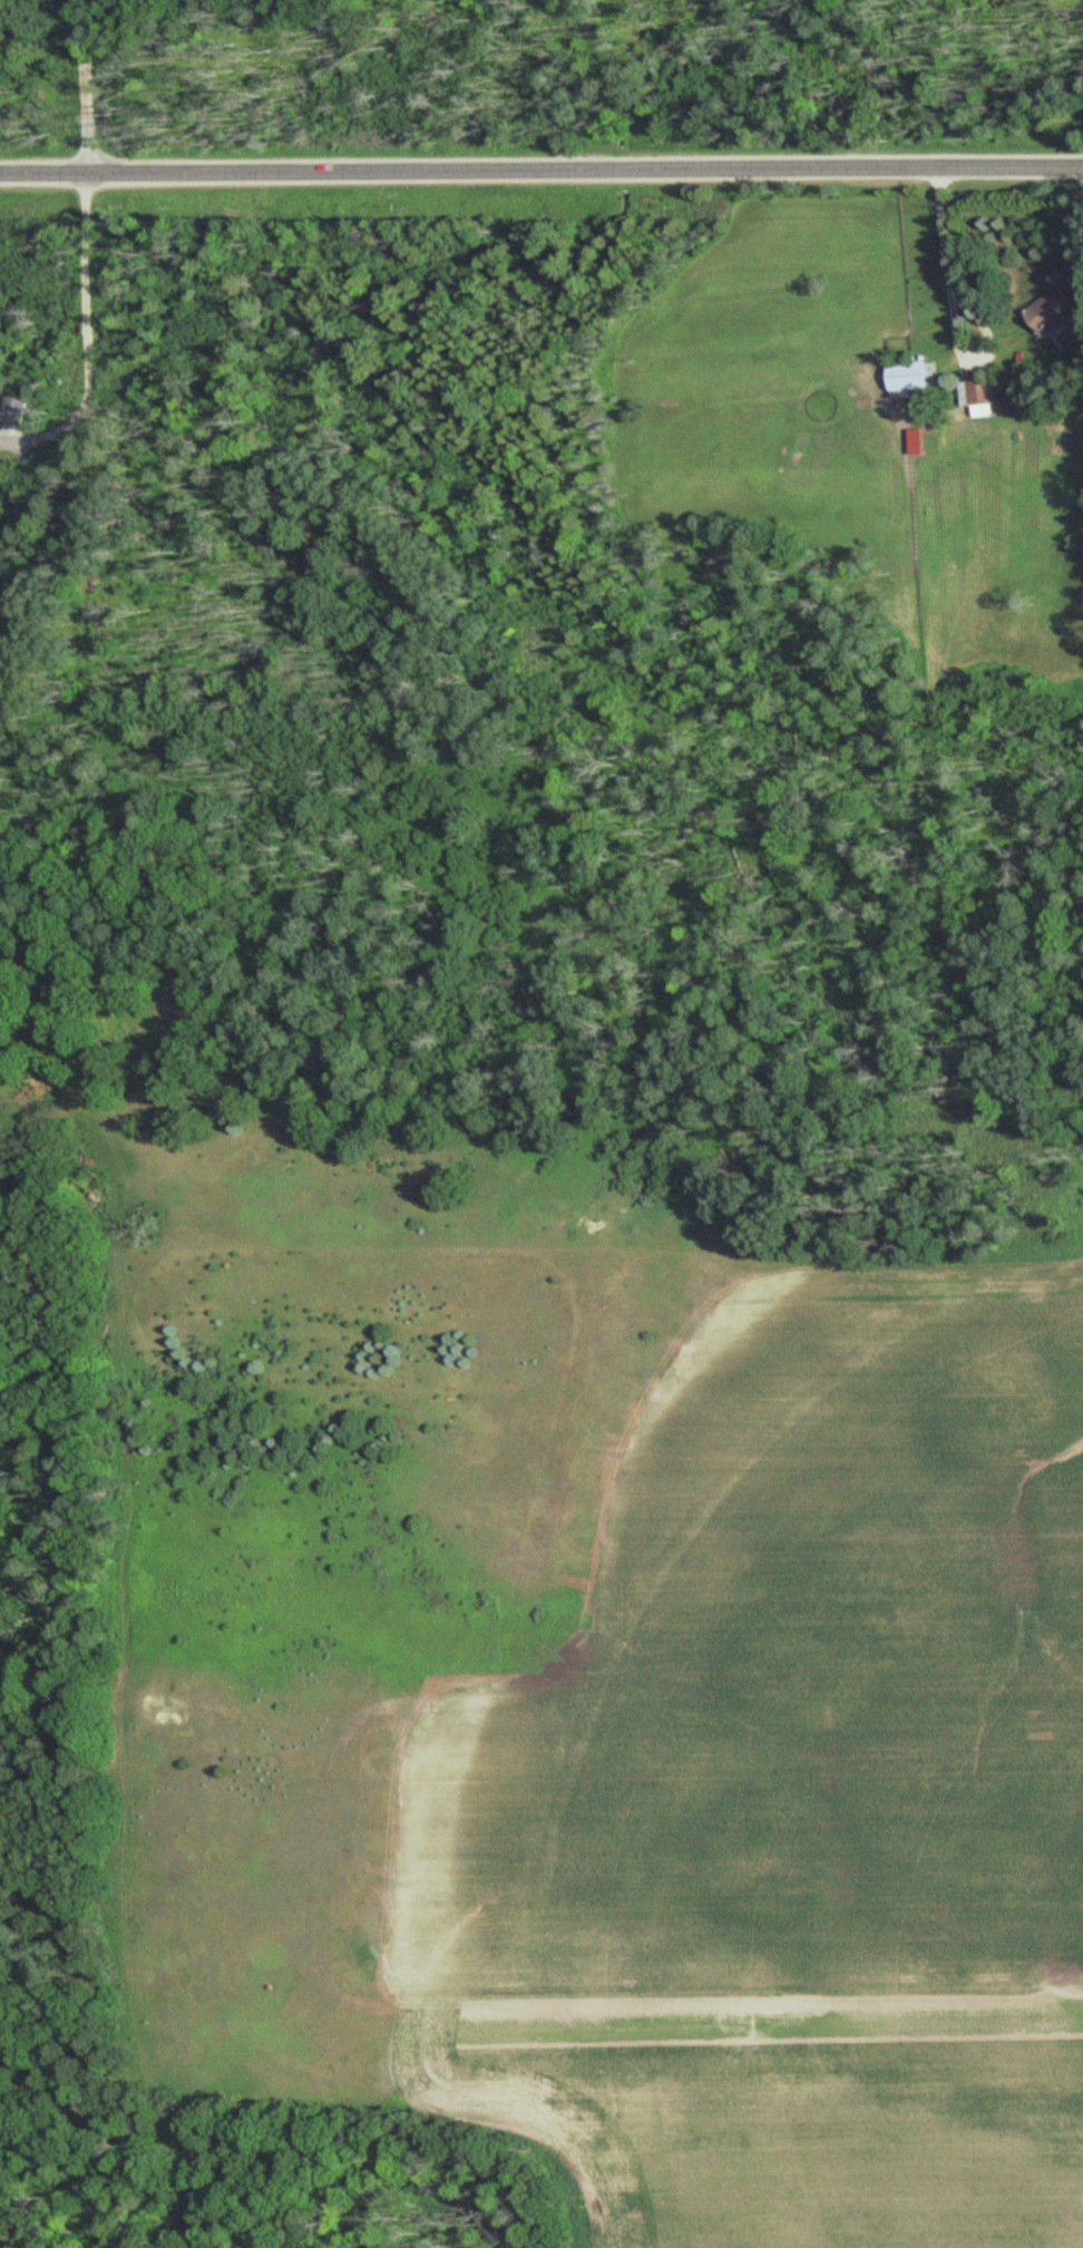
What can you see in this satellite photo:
road: (540, 171)
road: (943, 263)
building: (1046, 311)
building: (909, 376)
building: (974, 392)
building: (14, 411)
road: (86, 1077)

